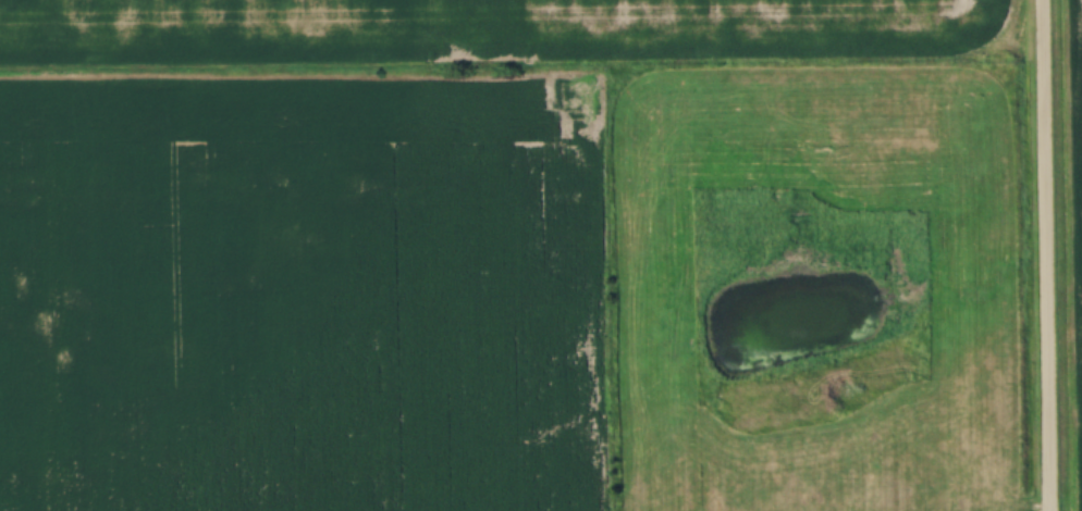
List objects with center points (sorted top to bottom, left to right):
road: (1052, 255)

